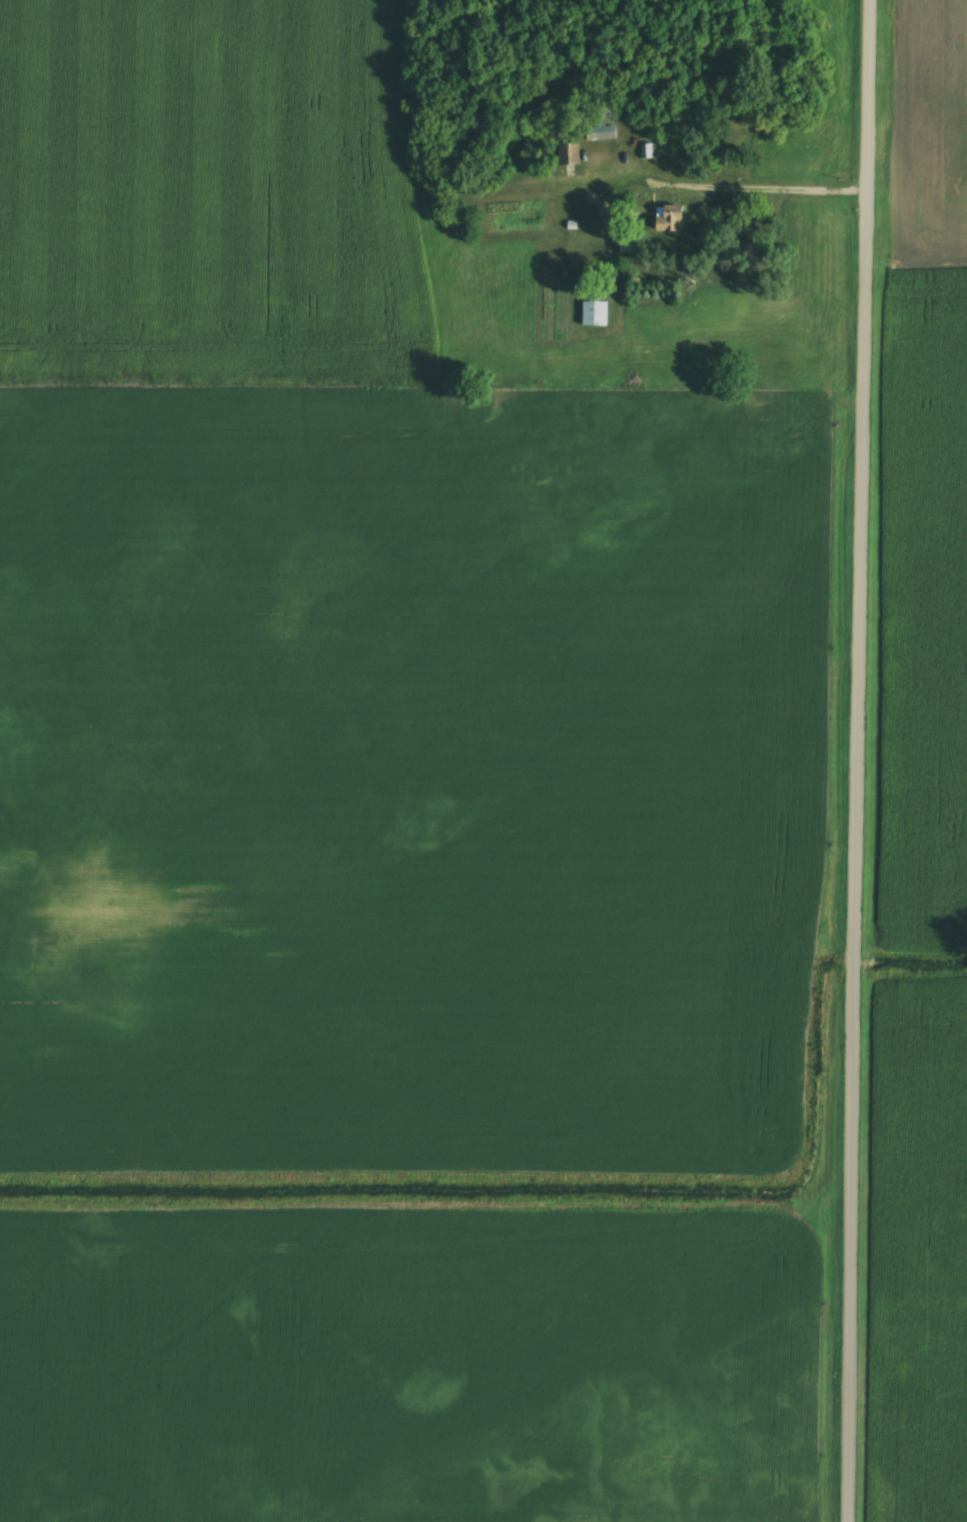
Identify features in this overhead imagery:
building: (600, 133)
building: (569, 154)
building: (669, 220)
building: (595, 314)
road: (859, 761)

